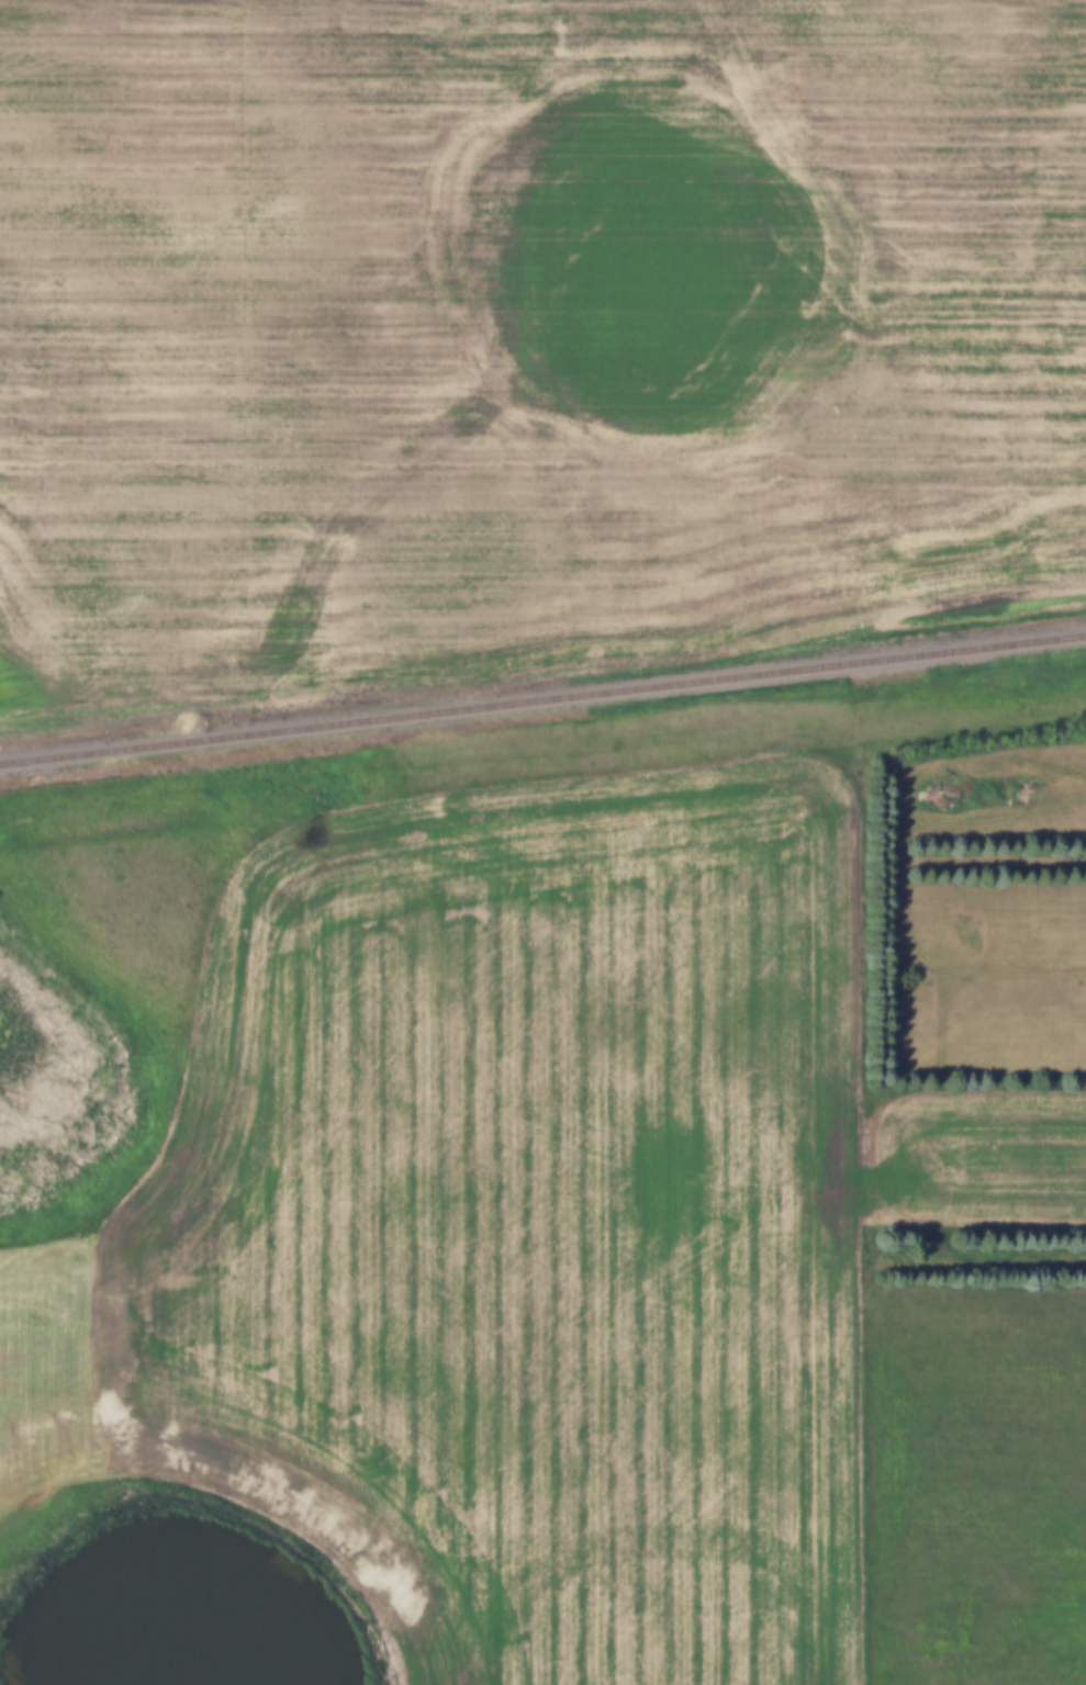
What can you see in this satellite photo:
railway: (542, 701)
road: (1050, 815)
park: (977, 995)

